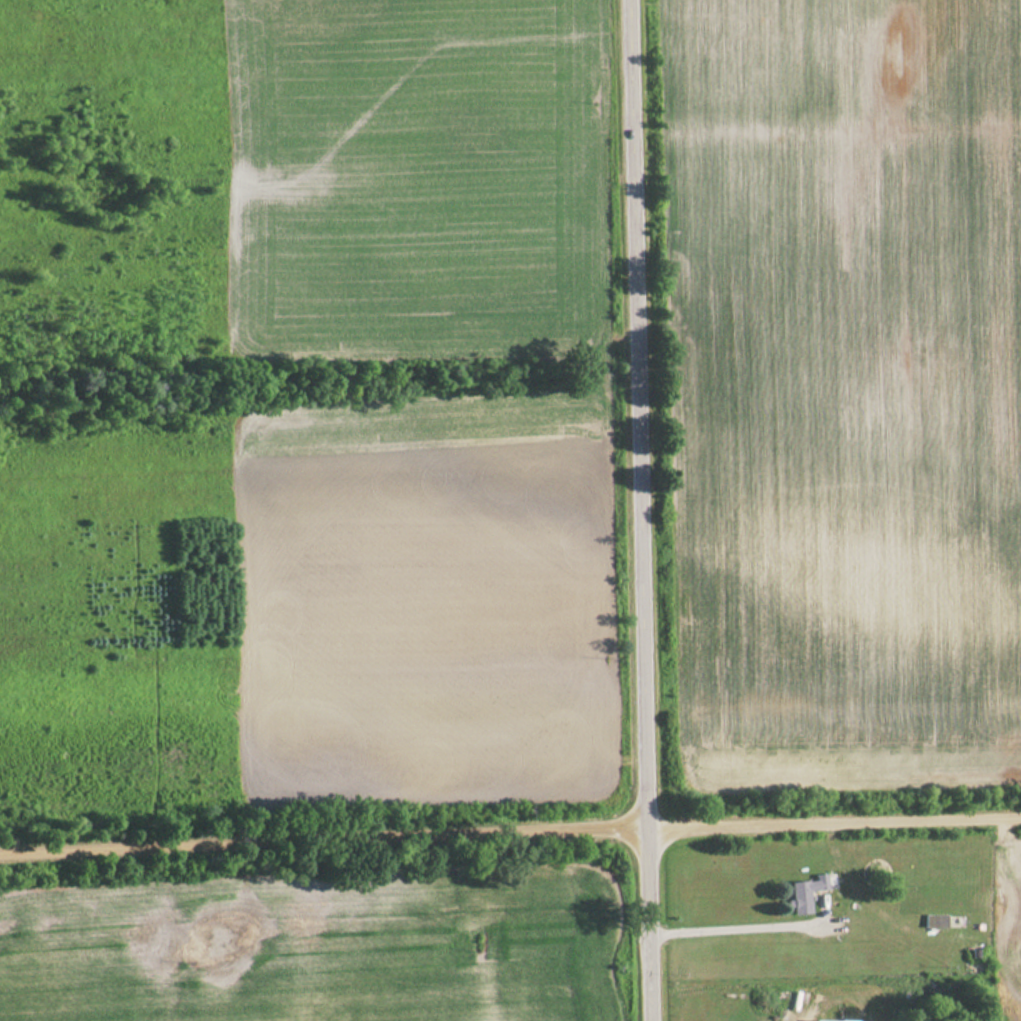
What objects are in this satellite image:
road: (643, 510)
road: (510, 842)
building: (805, 893)
building: (935, 921)

